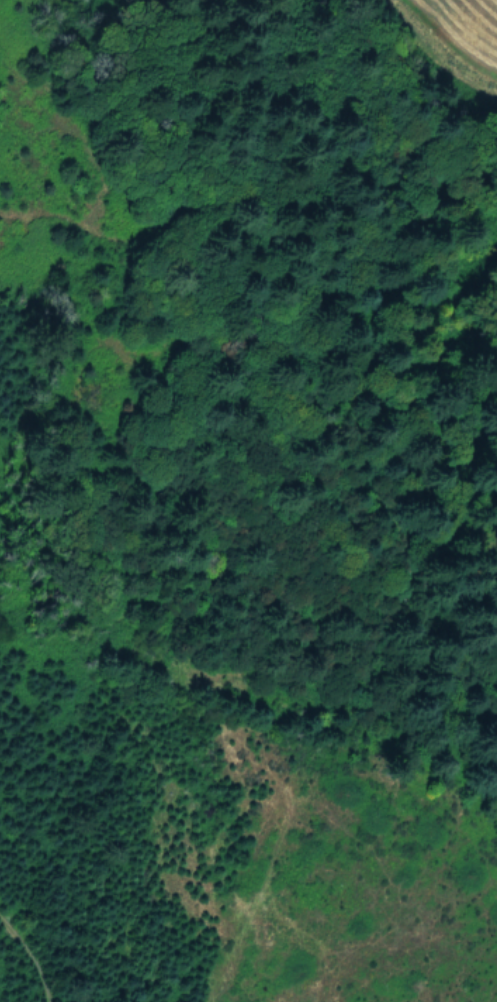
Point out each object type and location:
crop: (446, 29)

